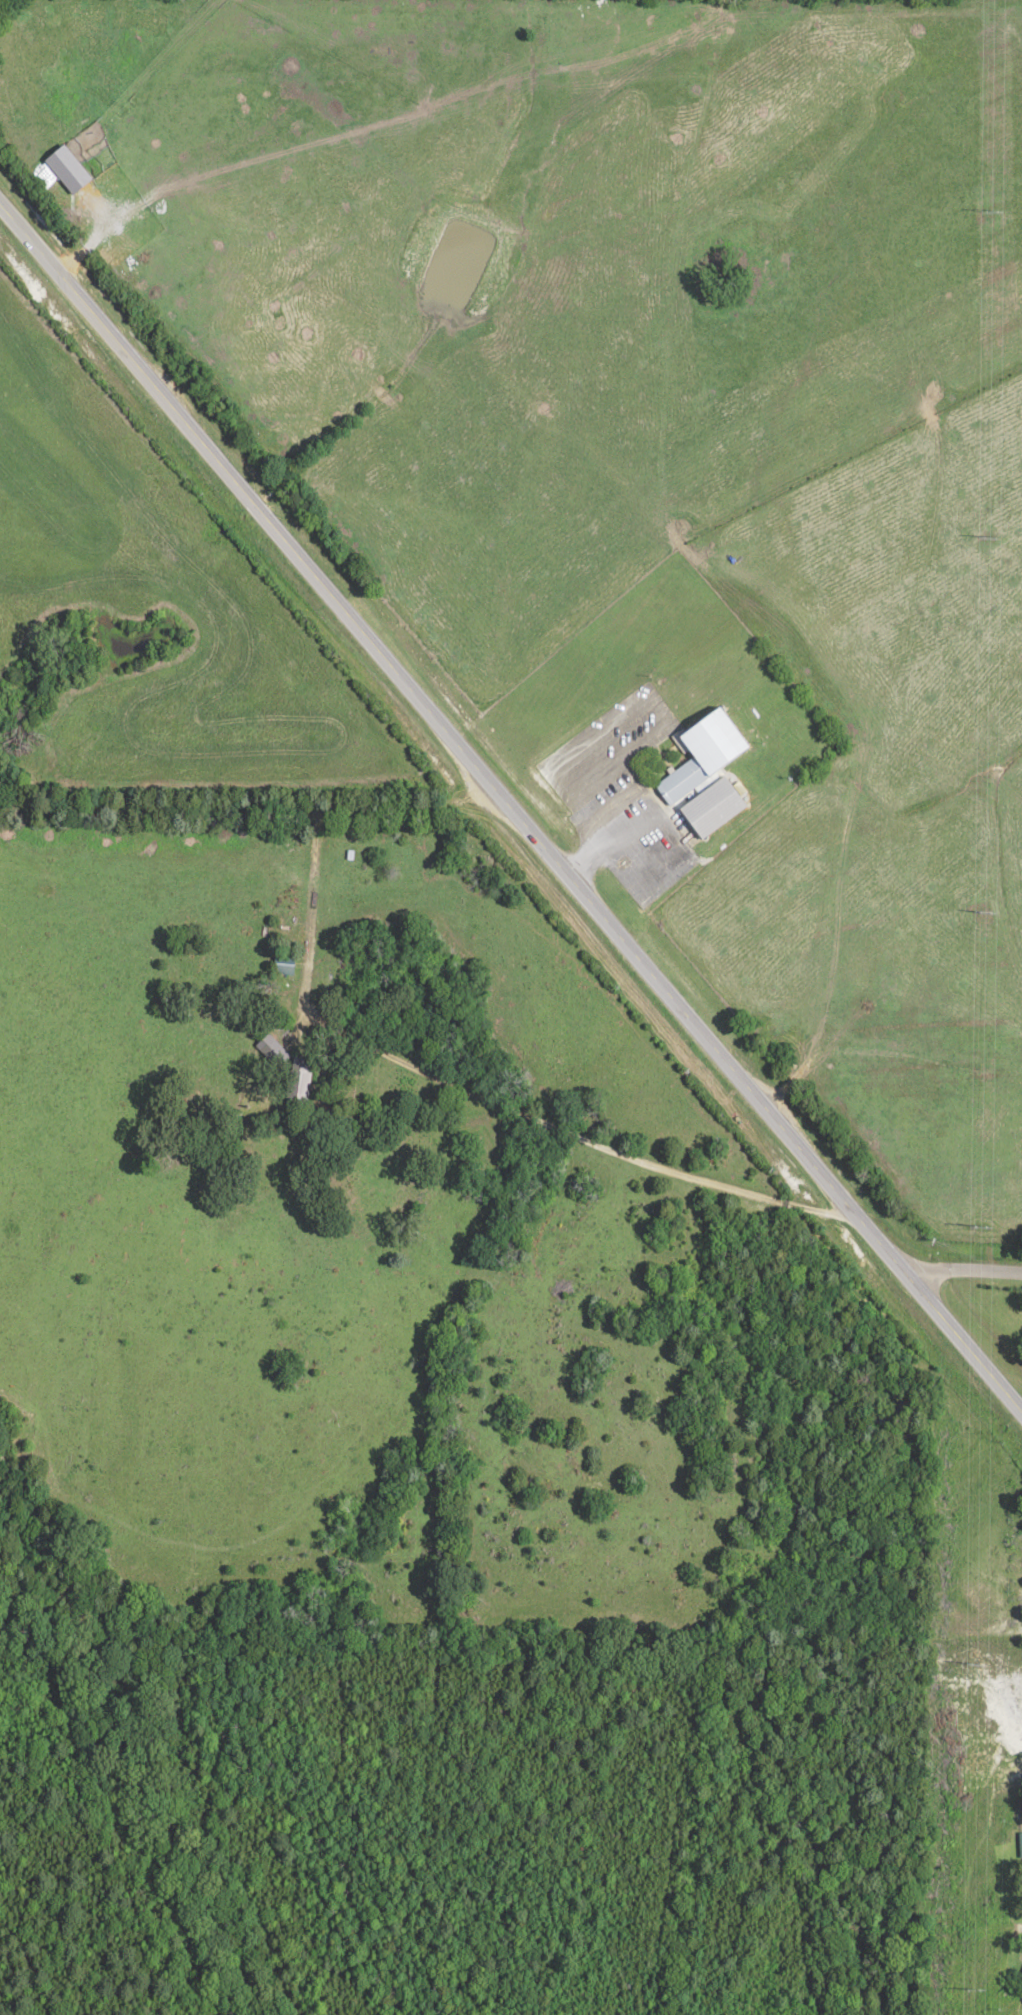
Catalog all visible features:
power tower: (985, 215)
power tower: (982, 541)
building: (708, 776)
road: (508, 812)
power tower: (979, 913)
building: (286, 966)
building: (301, 1081)
road: (567, 1137)
power tower: (976, 1230)
road: (964, 1273)
power tower: (972, 1664)
building: (1021, 1848)
road: (1021, 1932)
power tower: (969, 1994)

